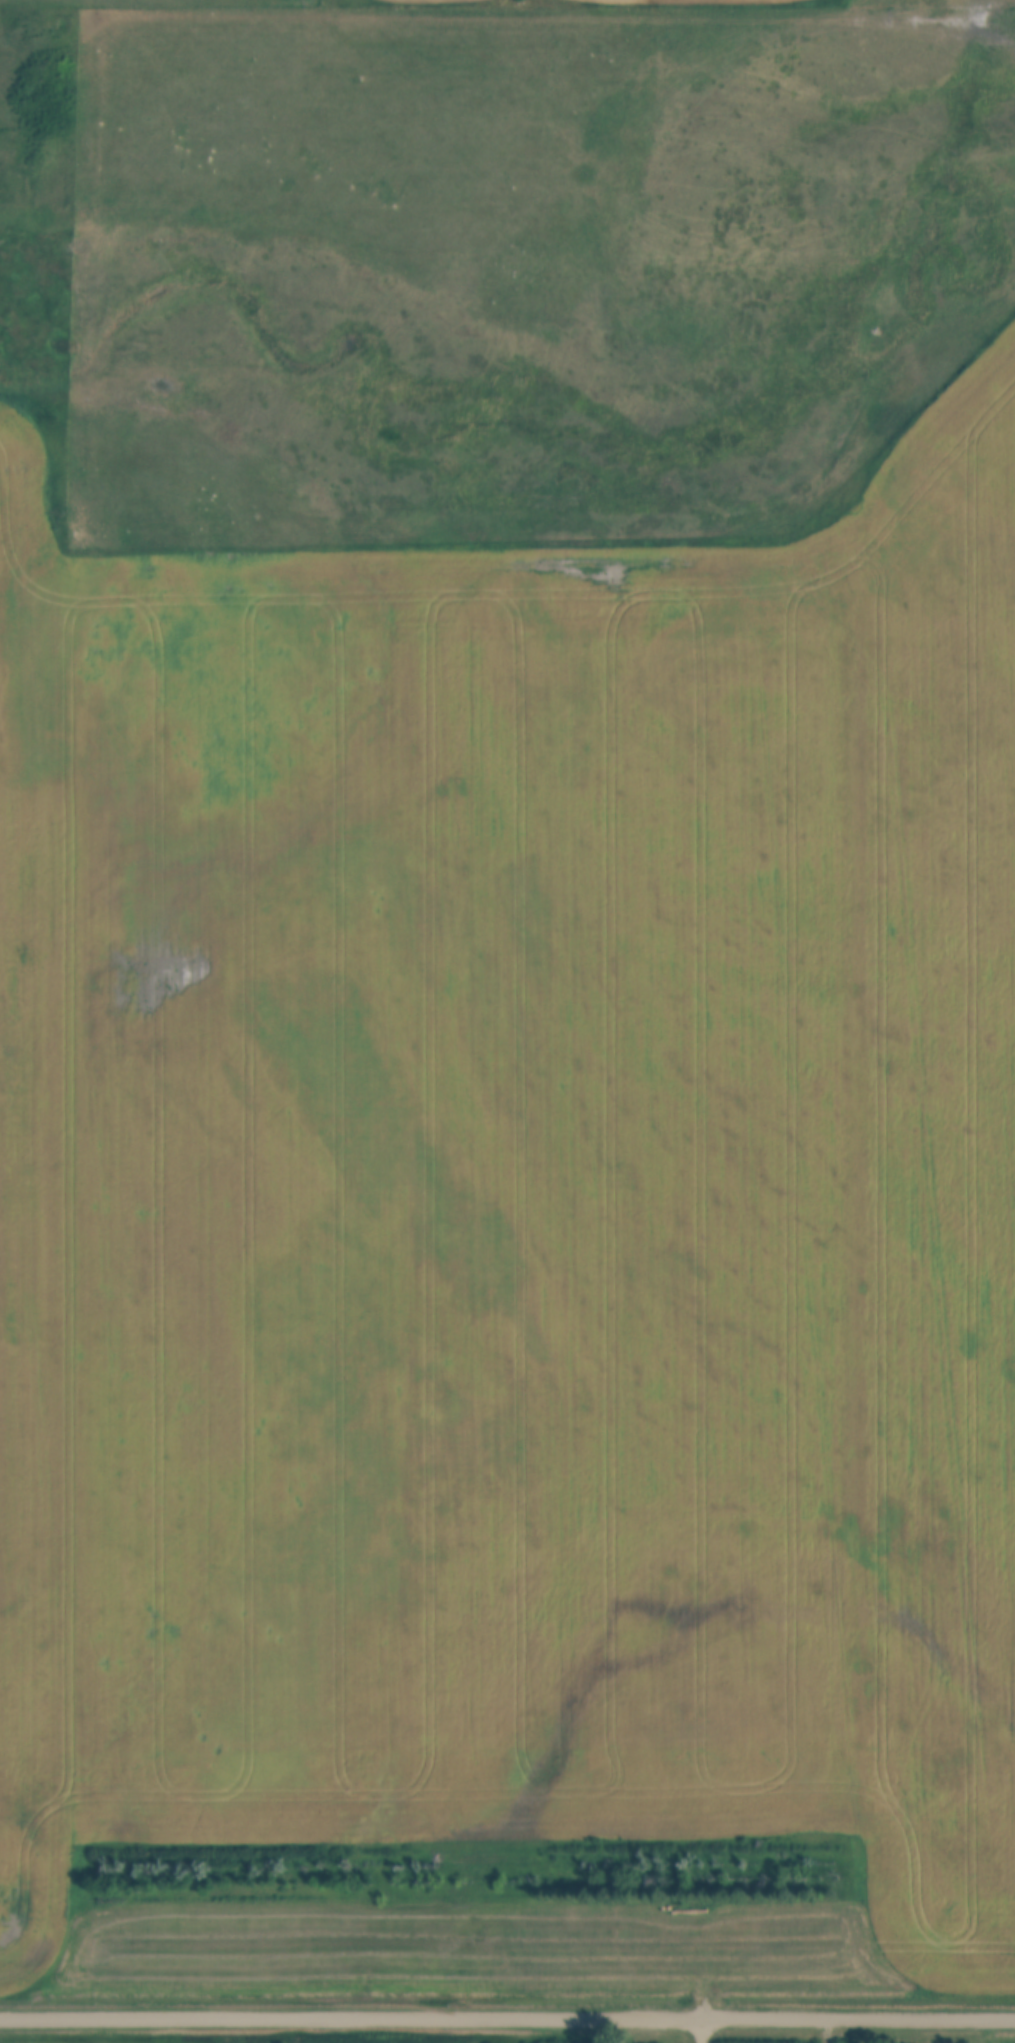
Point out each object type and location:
road: (507, 2019)
road: (703, 2031)

